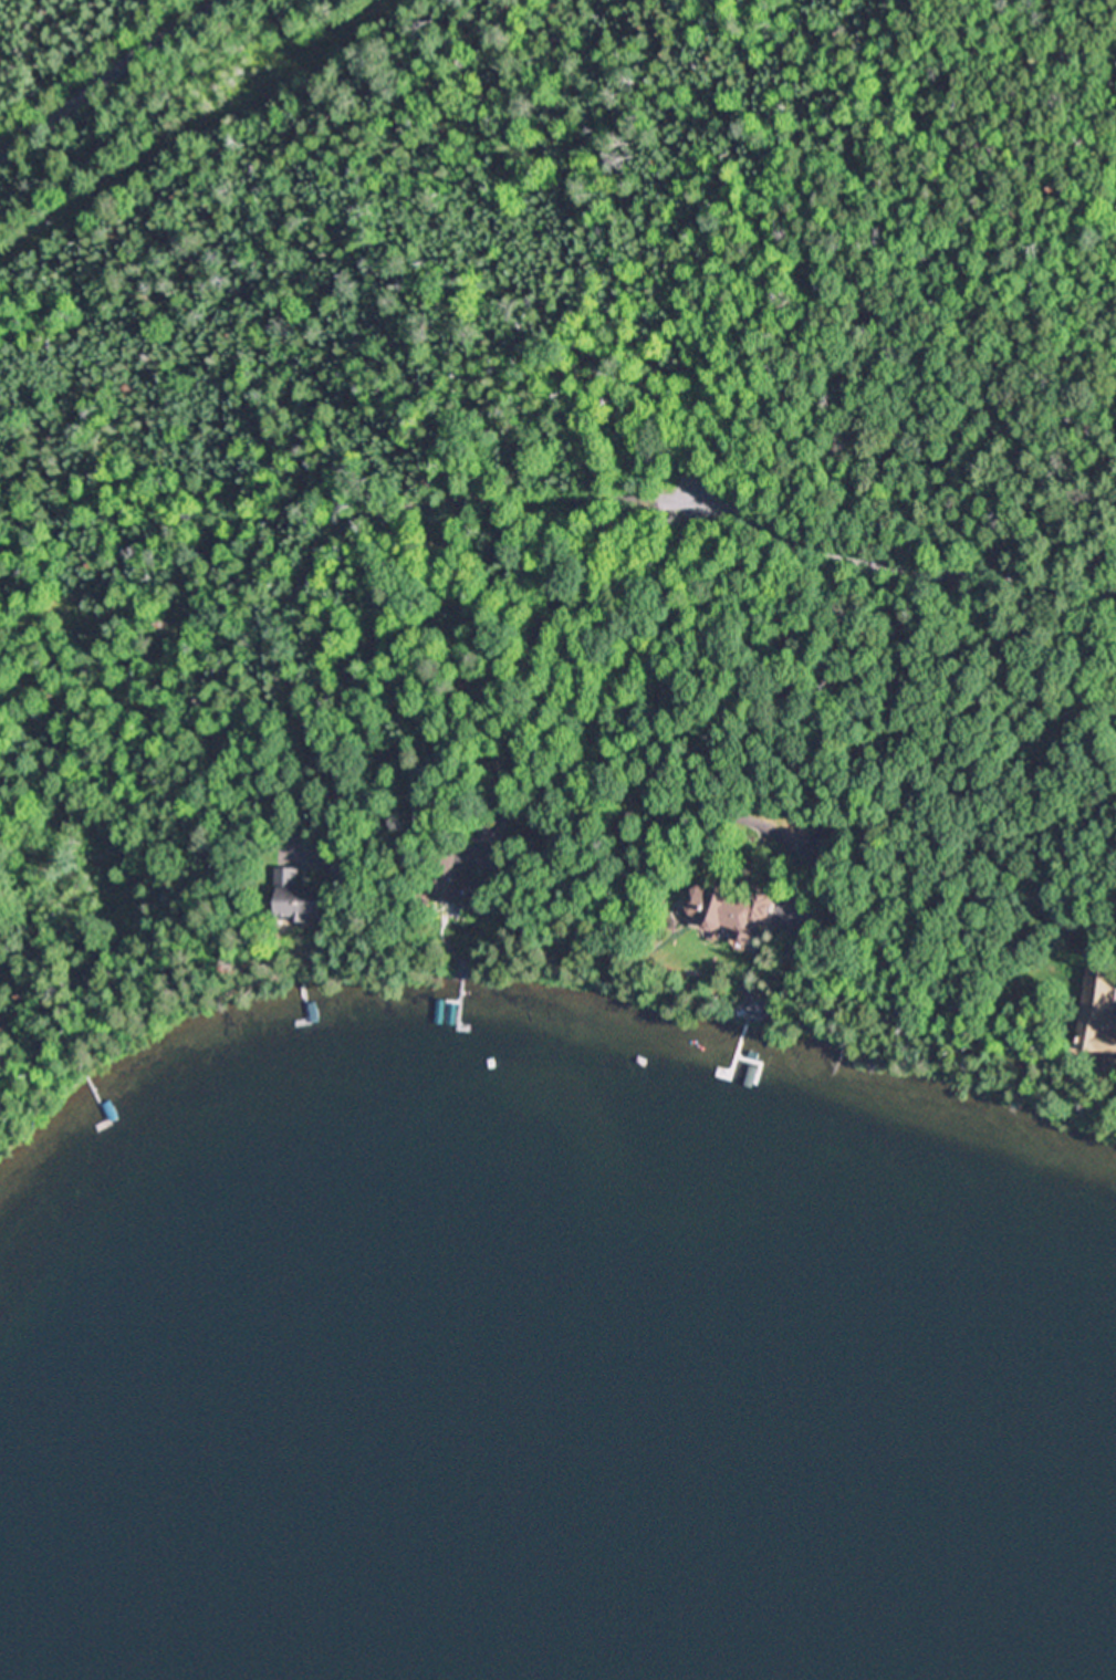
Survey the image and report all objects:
road: (115, 77)
road: (852, 546)
building: (825, 859)
building: (348, 862)
building: (461, 878)
building: (304, 897)
building: (736, 910)
building: (761, 1001)
building: (1099, 1012)

